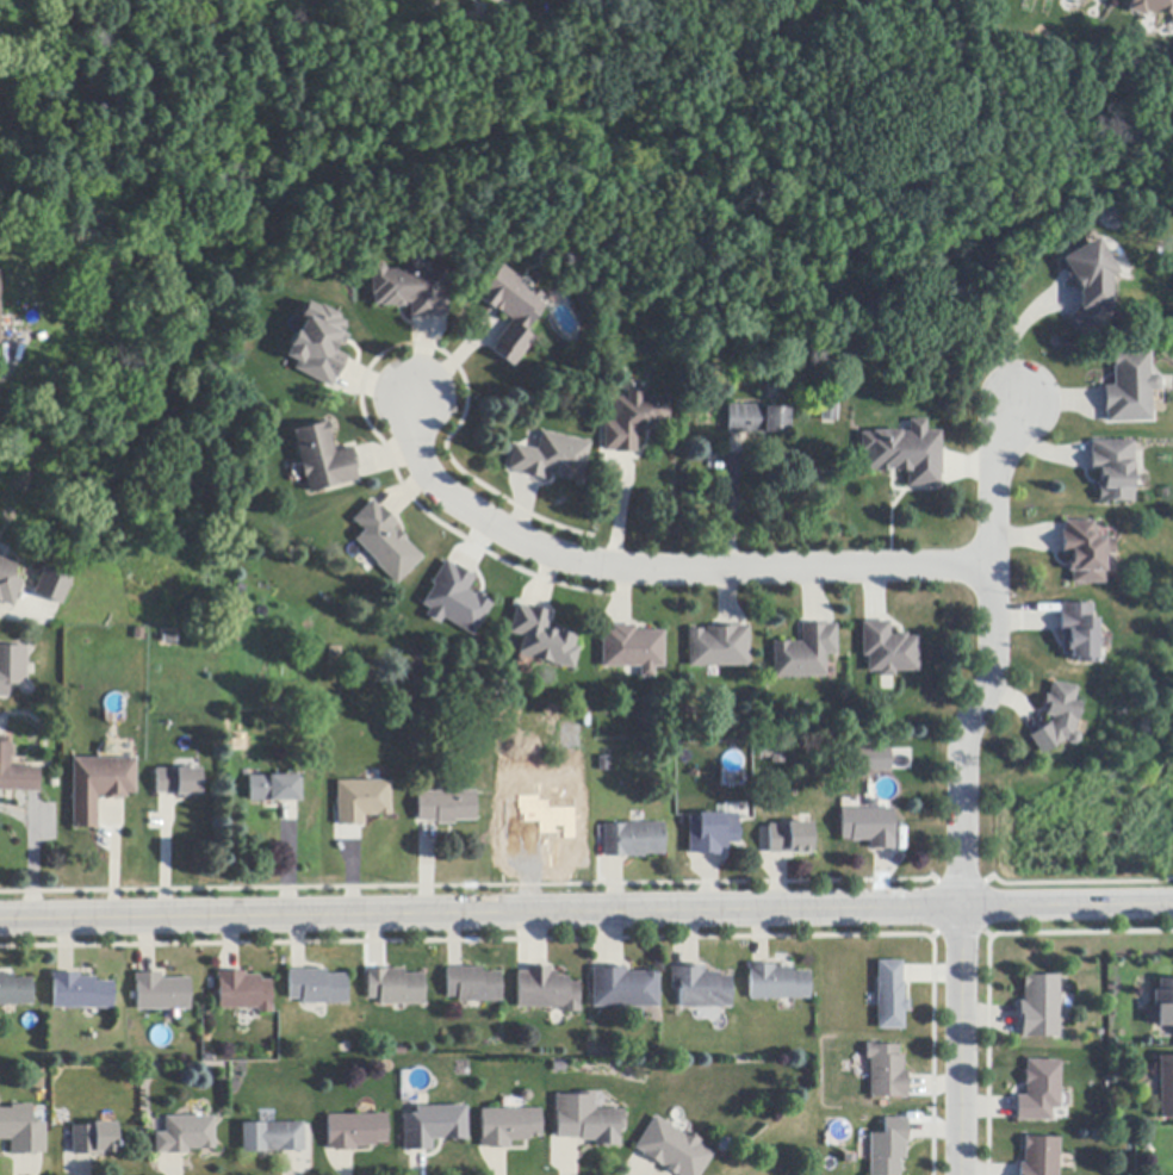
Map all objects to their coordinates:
building: (1150, 7)
park: (563, 145)
building: (1090, 286)
building: (410, 291)
building: (0, 296)
building: (510, 313)
building: (315, 342)
road: (1011, 344)
road: (10, 360)
building: (1129, 388)
building: (827, 411)
building: (756, 419)
building: (633, 422)
building: (905, 454)
building: (551, 458)
building: (322, 459)
building: (1111, 470)
building: (384, 542)
building: (1084, 552)
road: (657, 568)
building: (8, 583)
building: (51, 585)
building: (452, 597)
road: (23, 614)
building: (1076, 633)
building: (542, 639)
building: (719, 647)
building: (633, 649)
building: (888, 649)
building: (806, 653)
building: (334, 658)
road: (992, 659)
building: (11, 665)
building: (1056, 719)
building: (570, 738)
building: (772, 756)
building: (871, 760)
building: (604, 764)
building: (15, 773)
building: (178, 783)
building: (99, 787)
building: (273, 789)
building: (359, 798)
building: (446, 807)
building: (869, 827)
building: (712, 833)
building: (790, 839)
building: (633, 840)
road: (32, 852)
road: (586, 913)
building: (776, 983)
building: (473, 986)
building: (317, 988)
building: (395, 988)
building: (700, 988)
building: (625, 989)
building: (15, 991)
building: (546, 991)
building: (81, 993)
building: (162, 993)
building: (244, 993)
building: (889, 996)
building: (1163, 1003)
building: (1038, 1007)
road: (962, 1042)
building: (886, 1073)
building: (1165, 1087)
building: (1038, 1092)
building: (586, 1120)
building: (433, 1127)
building: (508, 1127)
building: (23, 1131)
building: (355, 1132)
building: (185, 1136)
building: (272, 1138)
building: (94, 1139)
building: (887, 1148)
building: (672, 1150)
building: (1038, 1157)

